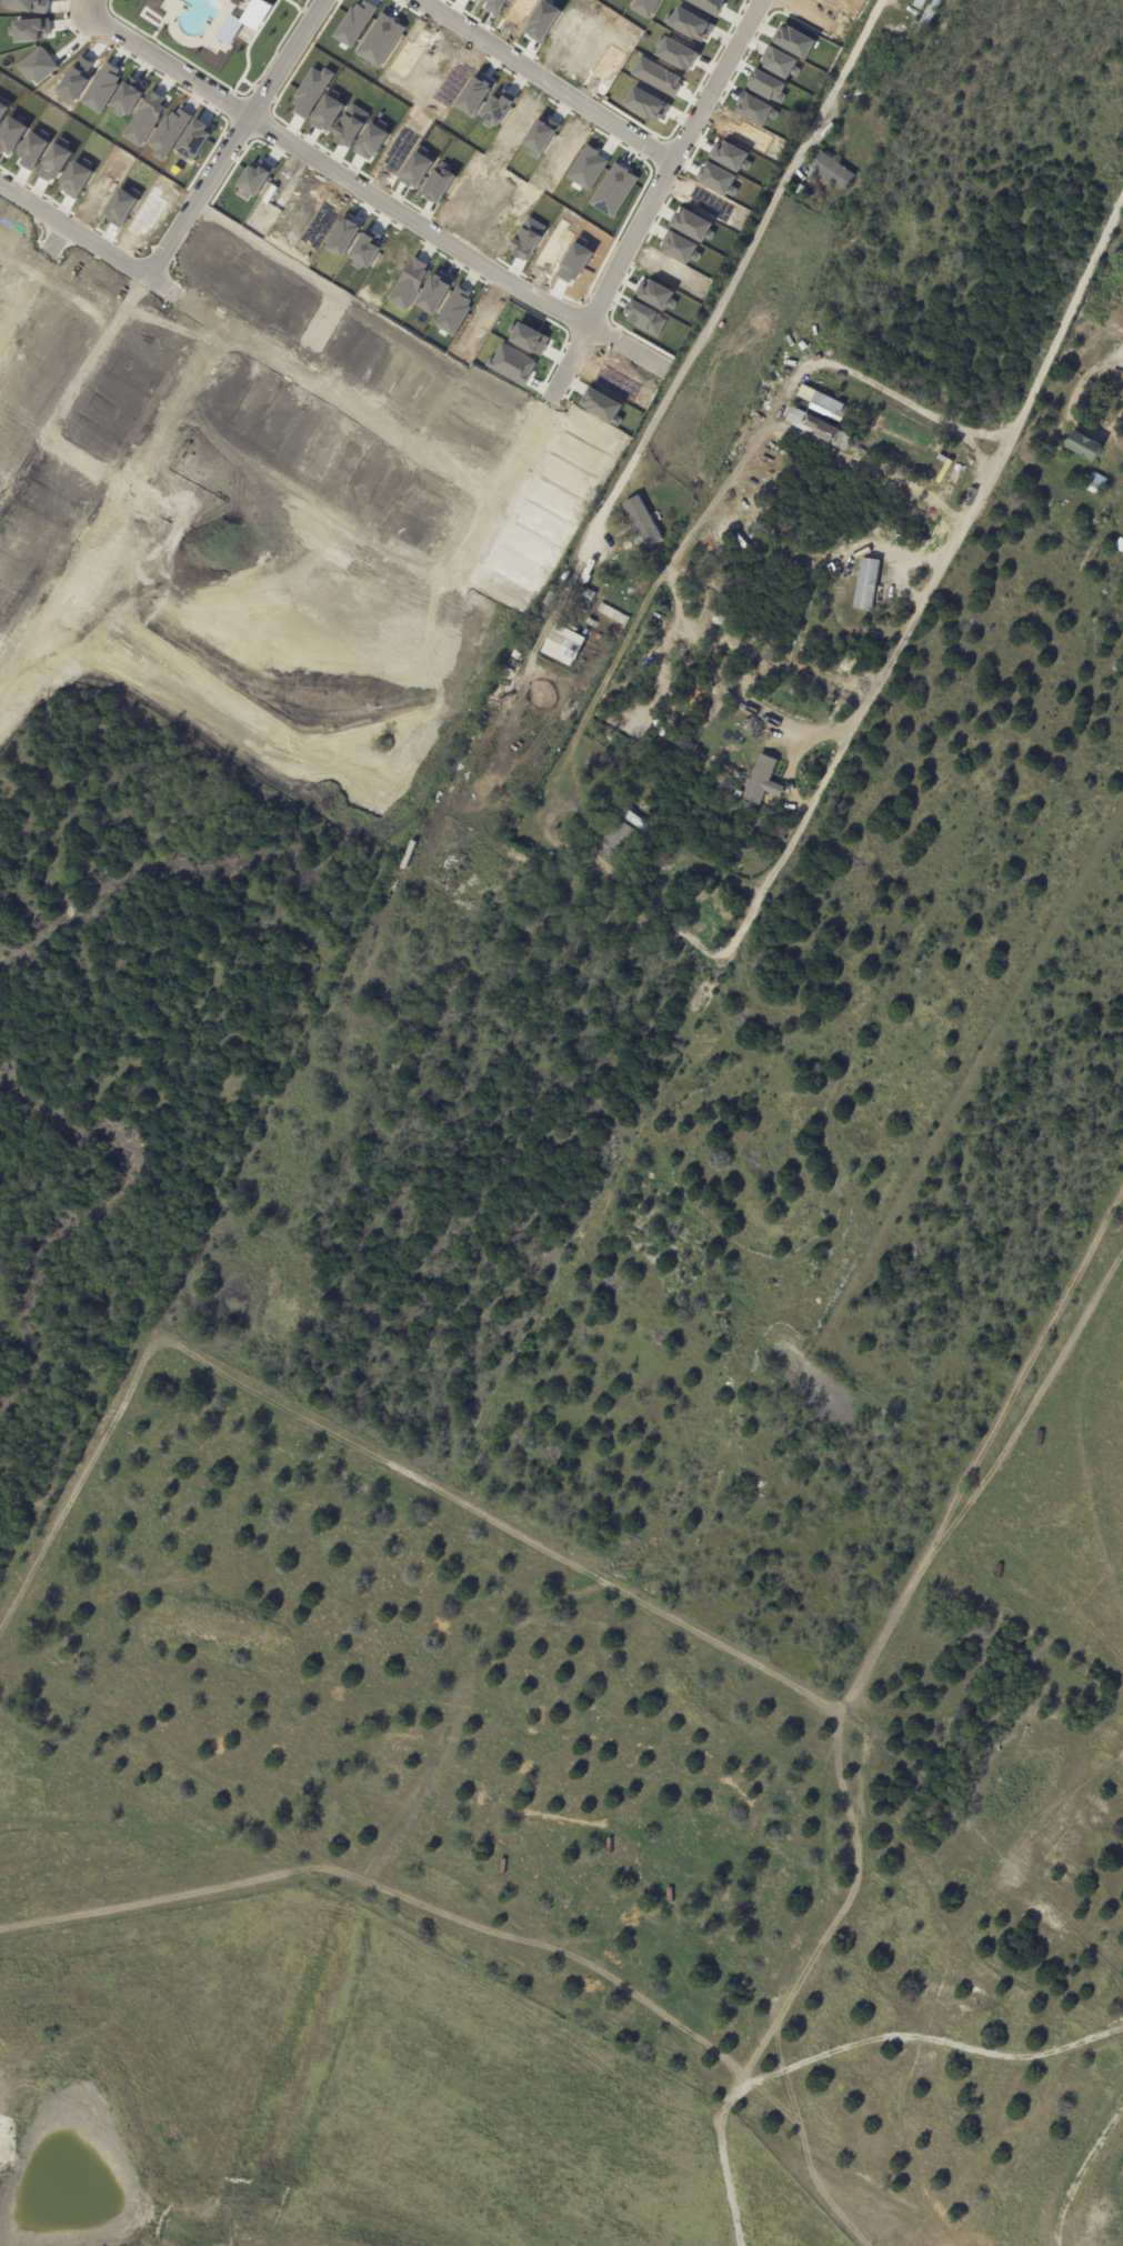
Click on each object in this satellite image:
building: (920, 4)
road: (92, 6)
road: (801, 11)
building: (928, 19)
road: (543, 80)
road: (230, 138)
building: (826, 174)
road: (364, 189)
building: (802, 192)
road: (654, 197)
road: (71, 230)
road: (32, 277)
road: (730, 288)
road: (1062, 327)
building: (1070, 335)
building: (1085, 351)
building: (761, 402)
building: (823, 408)
road: (353, 415)
building: (818, 430)
road: (519, 448)
building: (1082, 449)
building: (1041, 450)
road: (134, 467)
road: (736, 472)
building: (1094, 484)
building: (1107, 493)
building: (643, 524)
building: (1119, 547)
building: (865, 584)
building: (585, 599)
building: (552, 600)
building: (568, 646)
building: (519, 655)
road: (728, 685)
road: (841, 745)
building: (762, 781)
building: (613, 843)
building: (412, 856)

